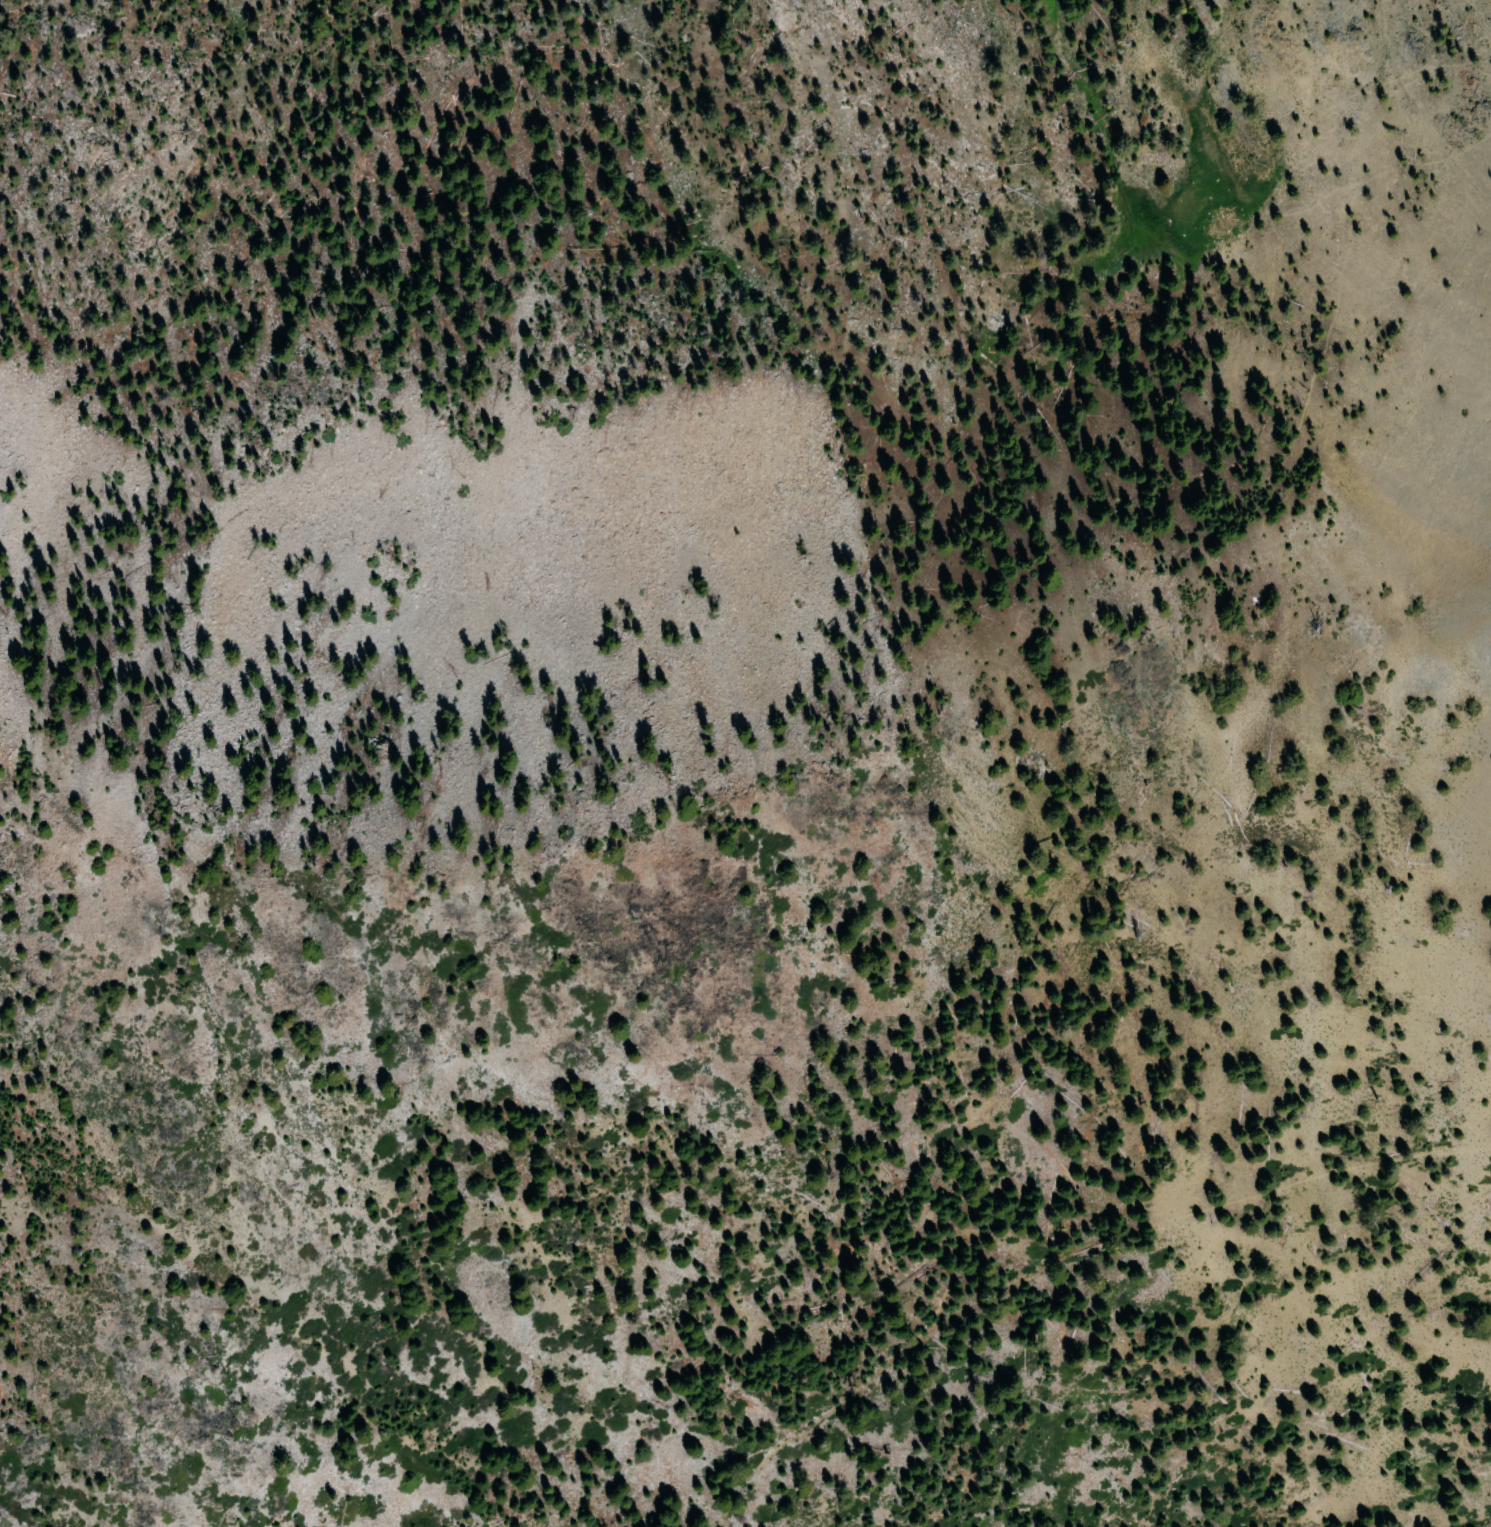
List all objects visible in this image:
road: (1311, 1172)
road: (867, 1380)

